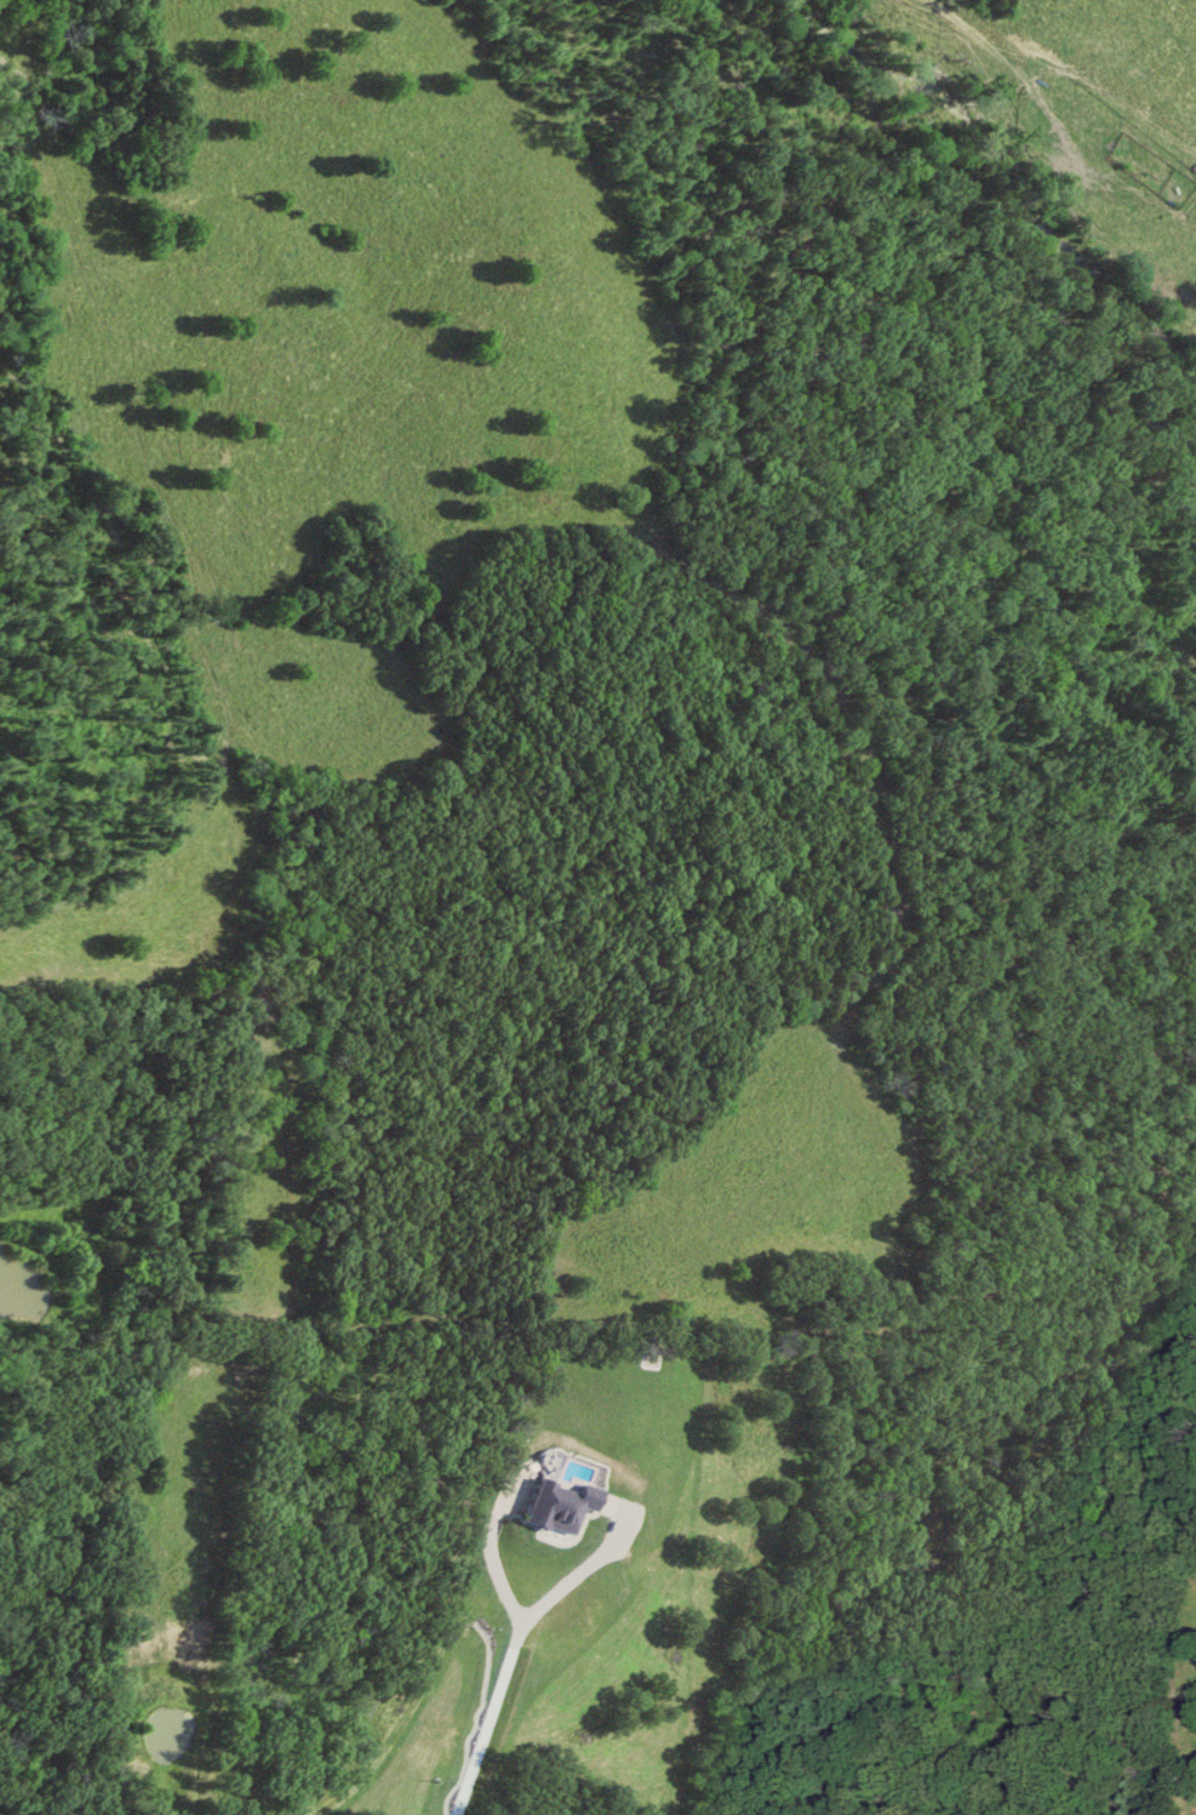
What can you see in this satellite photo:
building: (618, 1547)
road: (487, 1548)
road: (510, 1644)

